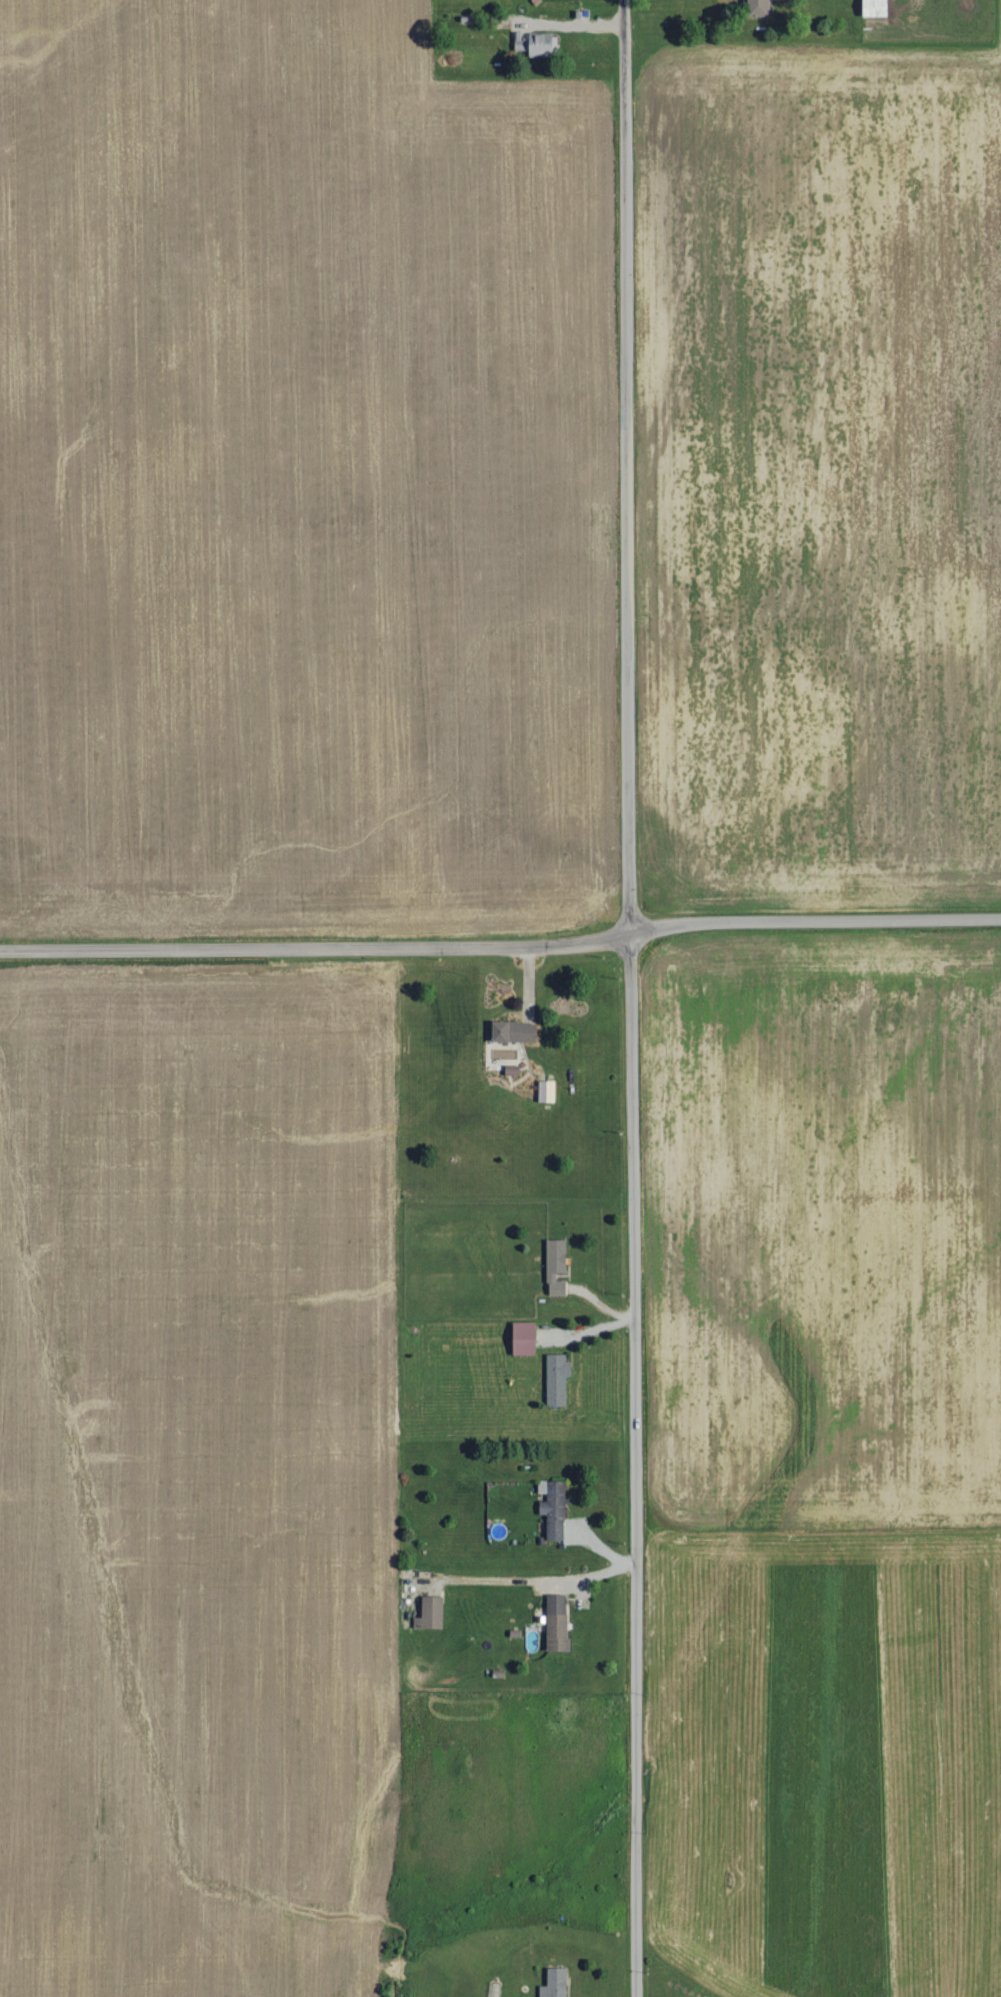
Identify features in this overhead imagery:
building: (759, 7)
building: (876, 7)
road: (812, 918)
road: (313, 939)
road: (627, 998)
building: (515, 1032)
building: (547, 1091)
building: (556, 1267)
building: (525, 1339)
building: (557, 1380)
building: (554, 1509)
building: (431, 1614)
building: (557, 1623)
building: (555, 1983)

